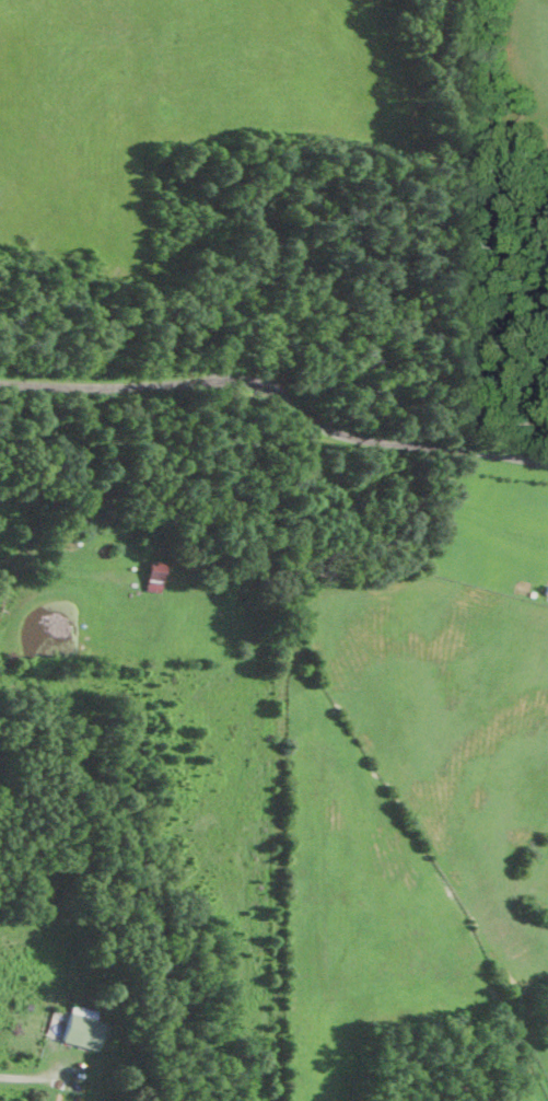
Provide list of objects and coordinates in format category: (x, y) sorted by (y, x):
road: (279, 394)
building: (71, 1030)
road: (31, 1077)

